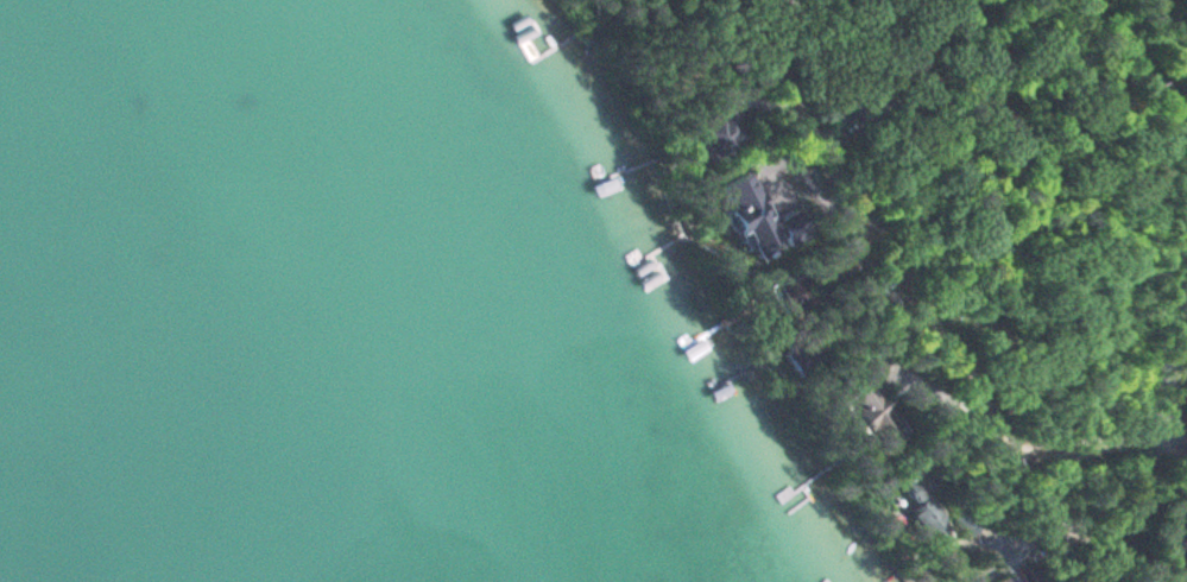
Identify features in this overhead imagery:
building: (720, 137)
building: (744, 197)
road: (918, 302)
road: (1180, 386)
building: (876, 412)
road: (1180, 545)

